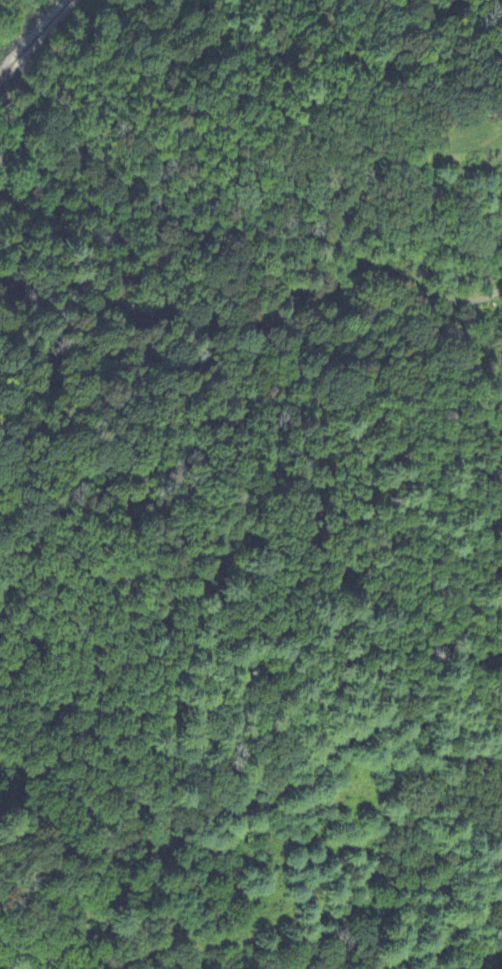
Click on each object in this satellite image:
railway: (33, 38)
road: (6, 172)
road: (262, 323)

